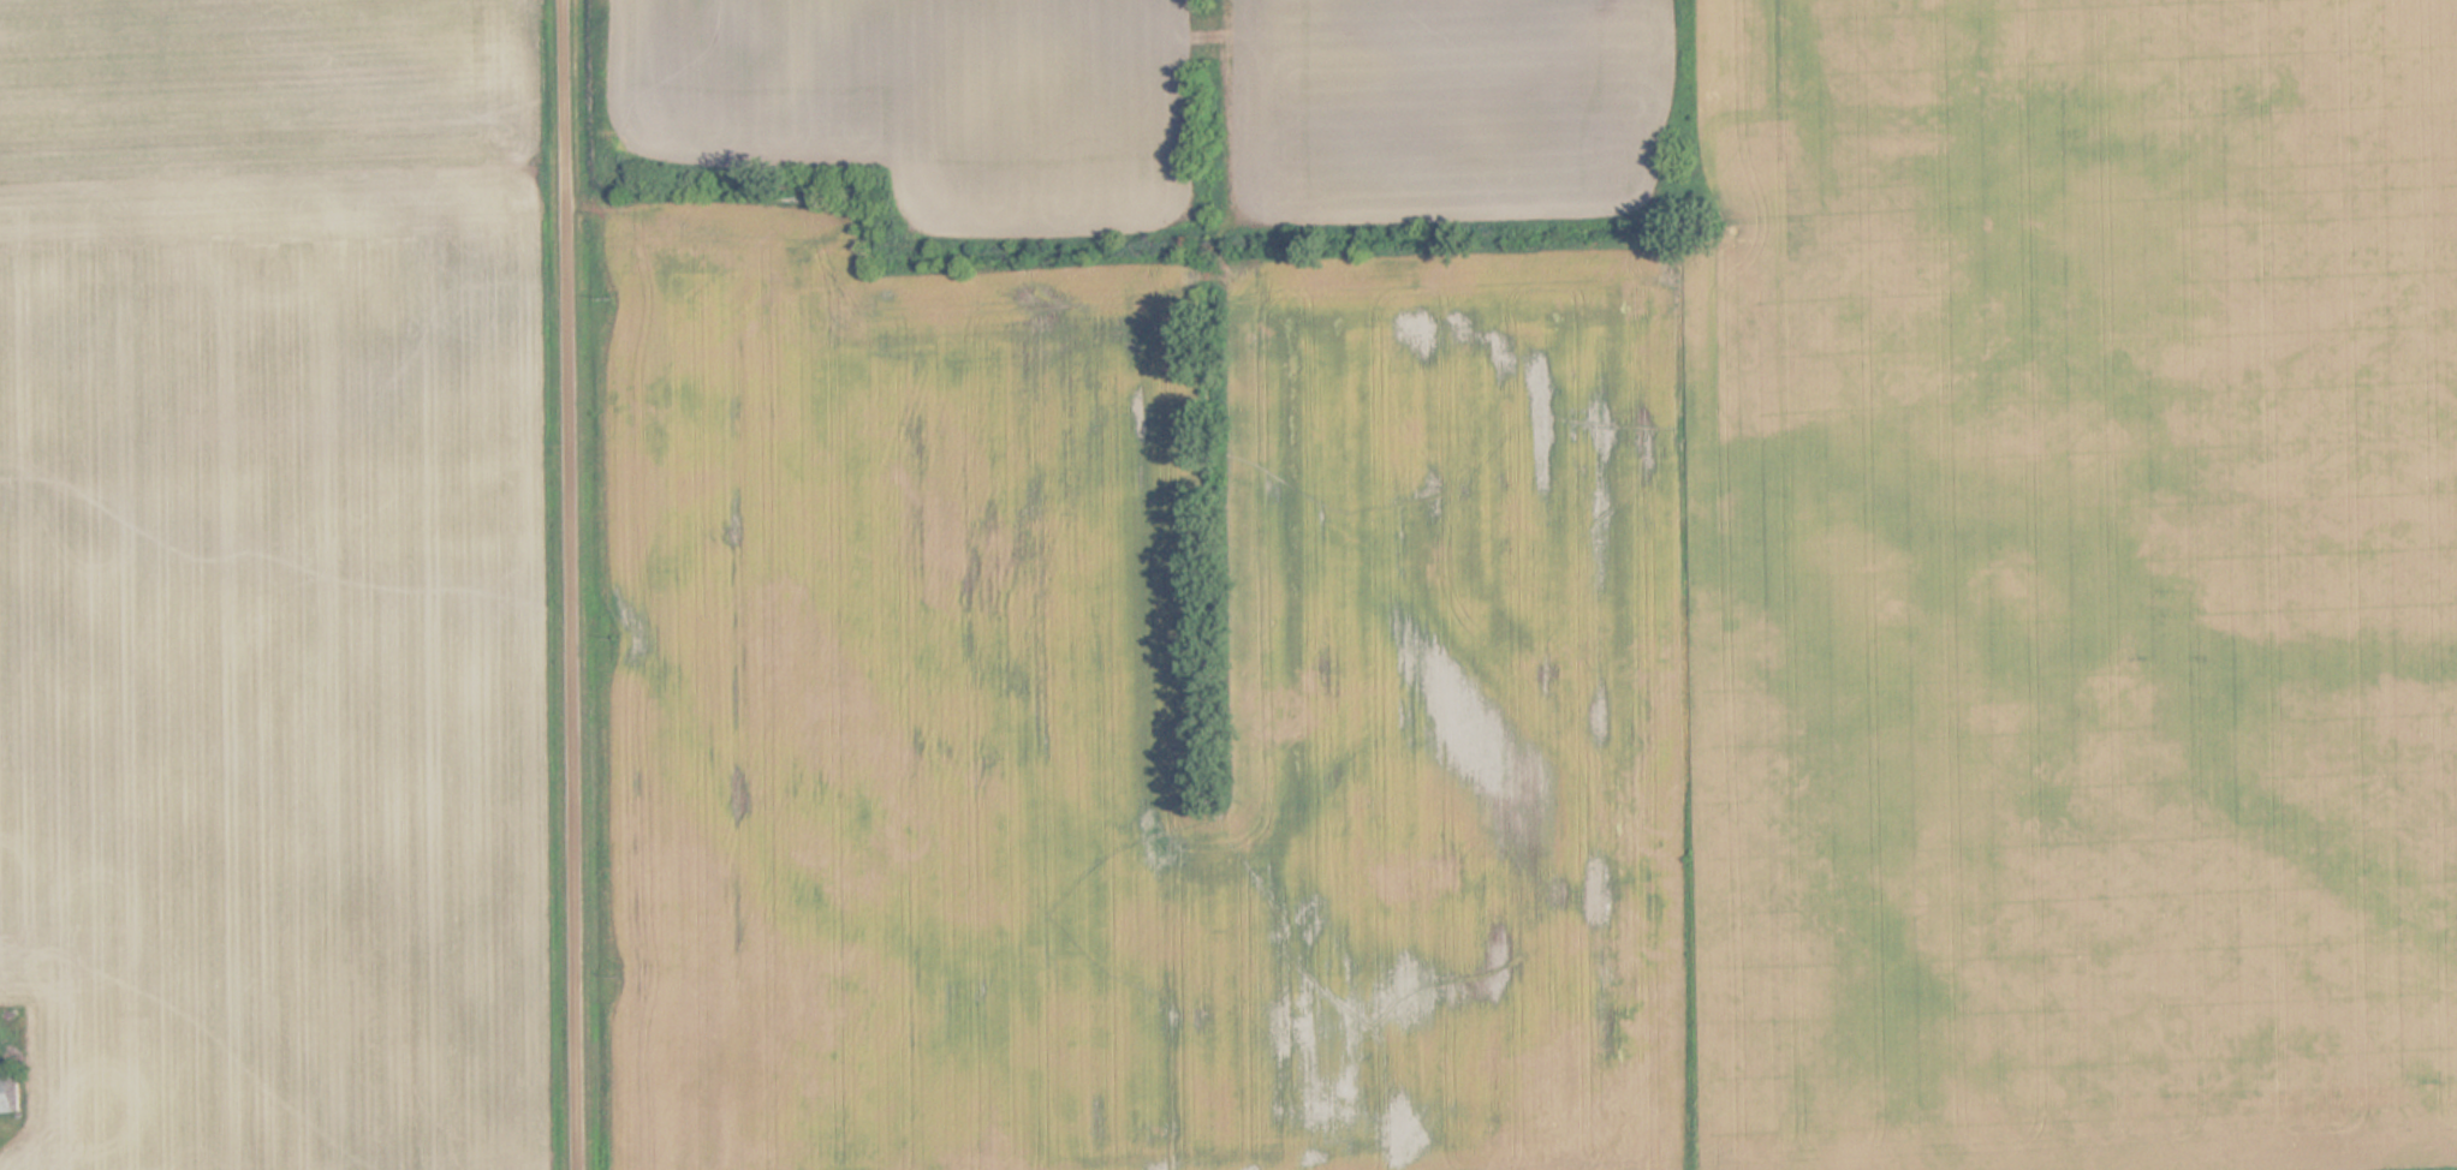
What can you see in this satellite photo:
road: (572, 585)
building: (14, 1086)

